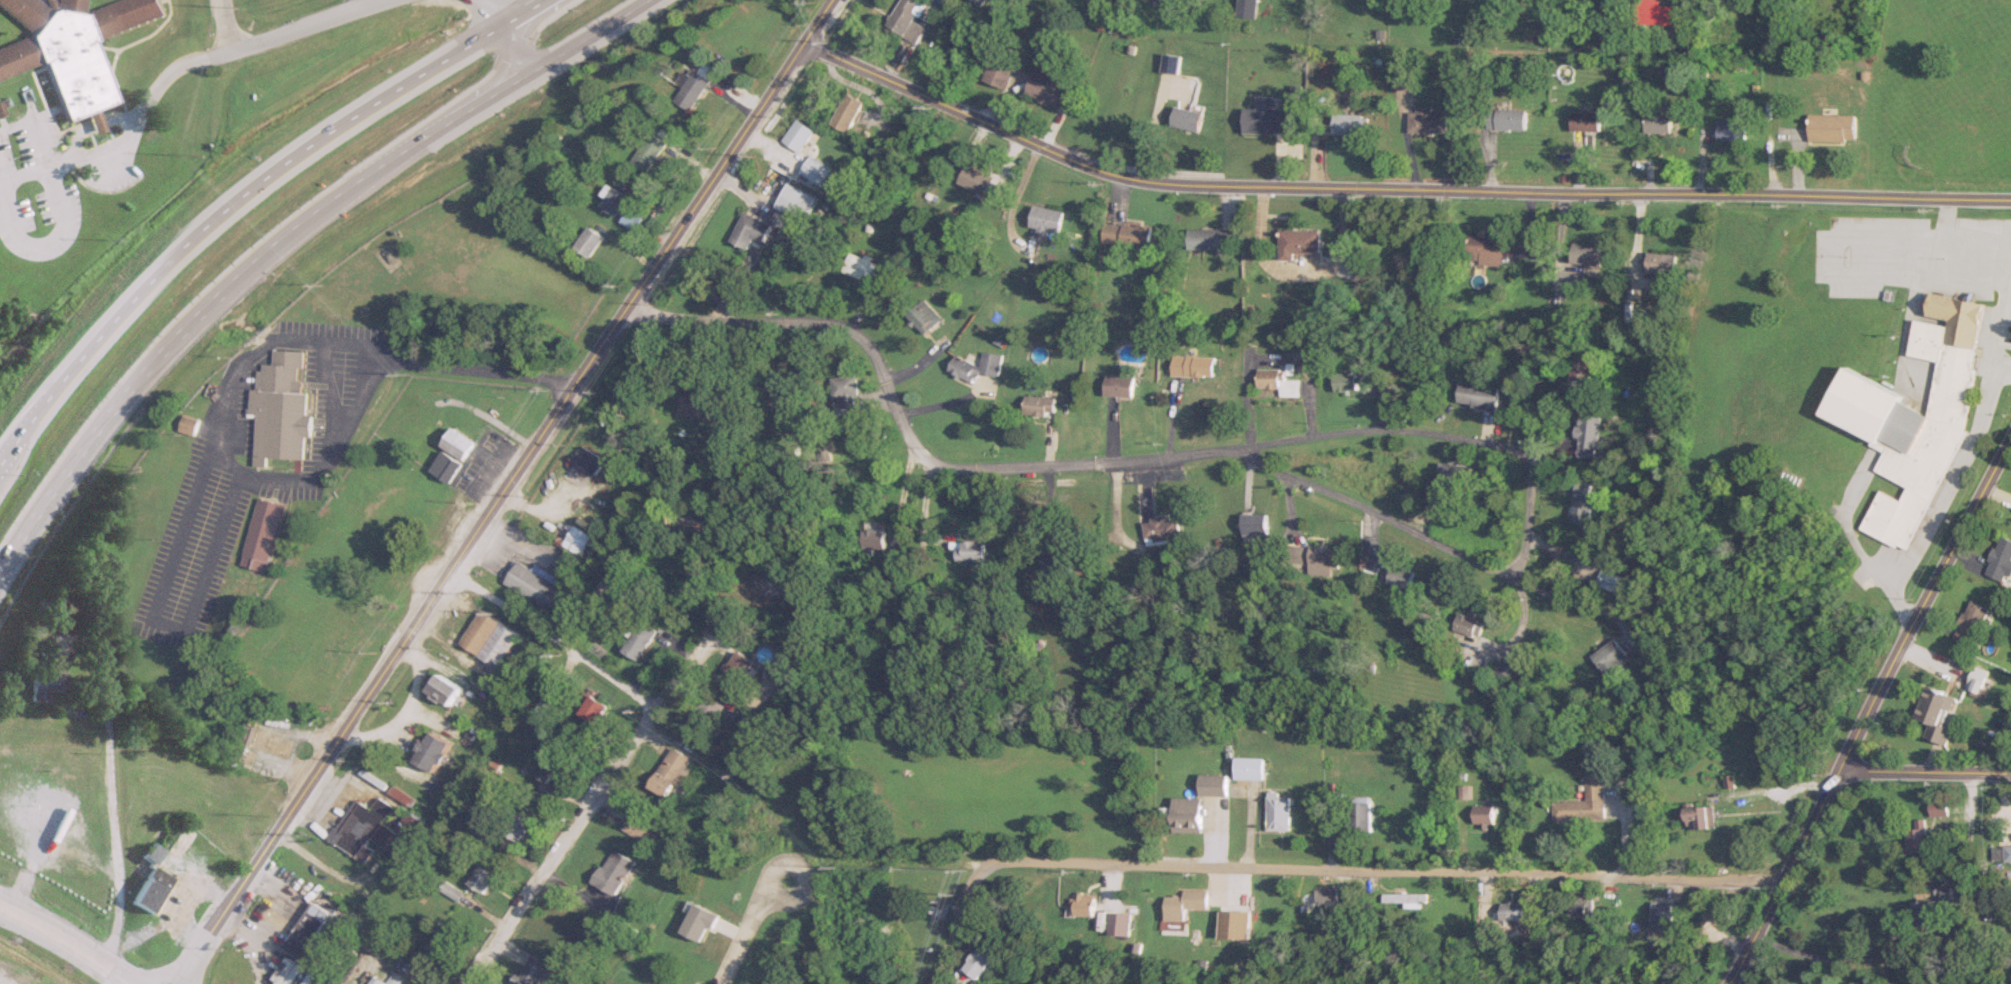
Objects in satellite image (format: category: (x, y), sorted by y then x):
building: (1567, 0)
road: (354, 1)
road: (467, 1)
building: (979, 2)
building: (1246, 8)
building: (1660, 14)
building: (907, 19)
road: (816, 20)
road: (222, 25)
road: (499, 34)
building: (70, 47)
road: (217, 53)
building: (1169, 64)
building: (998, 73)
building: (1401, 82)
building: (1047, 85)
building: (693, 87)
building: (847, 112)
building: (1266, 118)
building: (1187, 119)
building: (1508, 119)
building: (1428, 121)
building: (1586, 121)
building: (1658, 122)
building: (1349, 124)
building: (1833, 127)
building: (1733, 129)
road: (34, 130)
building: (796, 135)
building: (647, 152)
road: (79, 156)
road: (24, 175)
building: (976, 181)
road: (1393, 190)
road: (239, 197)
building: (615, 202)
building: (796, 203)
building: (630, 220)
building: (1046, 220)
road: (1947, 220)
building: (749, 231)
building: (1127, 234)
road: (279, 237)
building: (1212, 238)
road: (776, 240)
building: (588, 242)
road: (49, 243)
building: (1299, 243)
building: (1484, 250)
building: (1585, 253)
road: (1832, 259)
building: (1662, 263)
building: (859, 266)
building: (923, 316)
road: (1274, 353)
building: (975, 365)
building: (1193, 365)
building: (1581, 366)
road: (2002, 370)
road: (487, 373)
building: (1346, 380)
building: (1278, 381)
building: (1119, 384)
building: (774, 391)
building: (1573, 392)
building: (844, 395)
building: (1476, 395)
building: (1039, 405)
building: (279, 408)
building: (704, 408)
building: (1915, 417)
building: (188, 424)
building: (1588, 434)
building: (458, 443)
road: (1243, 449)
road: (1545, 450)
road: (1964, 457)
building: (589, 460)
building: (445, 467)
building: (1451, 481)
road: (1549, 481)
building: (1582, 503)
road: (492, 515)
building: (686, 520)
building: (1256, 524)
building: (1030, 528)
building: (1161, 531)
building: (260, 534)
building: (873, 538)
building: (900, 547)
building: (975, 550)
road: (1556, 554)
building: (1319, 559)
building: (2001, 560)
building: (1057, 564)
building: (1370, 565)
building: (1401, 577)
building: (1610, 581)
building: (532, 585)
road: (156, 599)
road: (1565, 599)
road: (1521, 617)
building: (1973, 622)
building: (1470, 624)
building: (486, 637)
building: (639, 640)
road: (556, 641)
road: (1498, 644)
building: (1614, 657)
building: (782, 663)
building: (738, 664)
building: (1506, 668)
building: (44, 684)
building: (443, 688)
road: (1868, 700)
building: (591, 706)
building: (548, 707)
building: (1938, 713)
building: (704, 714)
building: (430, 751)
building: (1249, 767)
road: (1922, 771)
building: (672, 772)
building: (1213, 784)
building: (1465, 792)
building: (1584, 803)
road: (114, 809)
building: (1279, 811)
road: (584, 813)
building: (1186, 813)
building: (1361, 813)
road: (1970, 814)
building: (1700, 817)
building: (1485, 819)
building: (517, 822)
building: (639, 826)
building: (371, 829)
building: (1919, 838)
building: (151, 852)
building: (2008, 852)
road: (1316, 868)
building: (611, 872)
building: (480, 879)
building: (150, 888)
building: (1324, 896)
building: (1953, 896)
building: (1403, 899)
building: (1185, 903)
building: (1083, 904)
building: (1577, 906)
building: (1509, 910)
building: (1716, 911)
building: (1926, 913)
building: (1658, 921)
building: (1119, 924)
road: (744, 926)
building: (305, 934)
building: (437, 943)
road: (63, 944)
road: (1836, 957)
building: (980, 963)
building: (531, 971)

